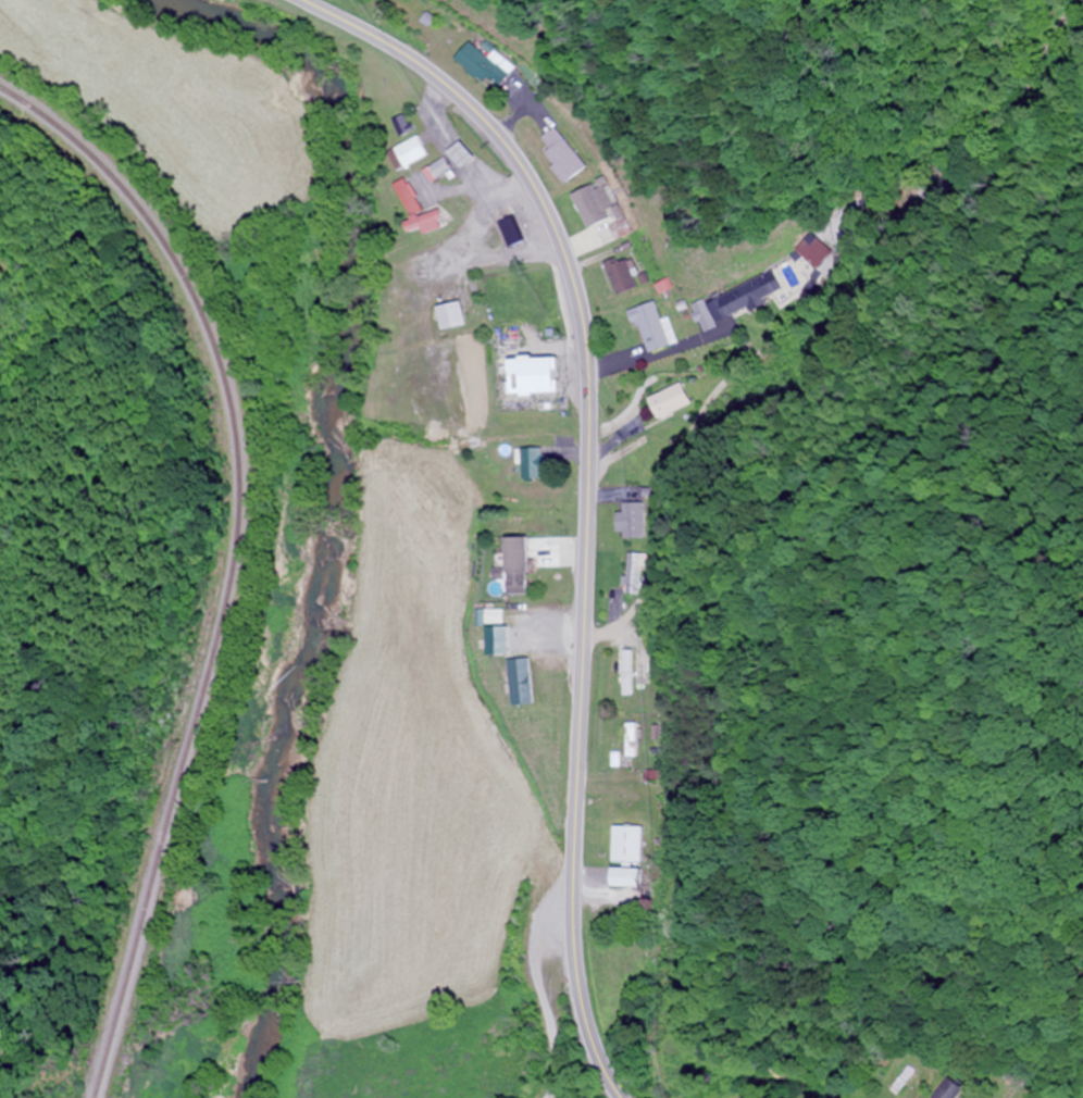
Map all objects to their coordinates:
building: (488, 65)
building: (416, 152)
building: (563, 155)
building: (423, 211)
building: (588, 211)
building: (513, 232)
building: (817, 251)
building: (623, 276)
building: (739, 301)
building: (457, 316)
building: (655, 327)
building: (539, 377)
building: (670, 400)
building: (535, 463)
road: (585, 492)
river: (339, 499)
building: (631, 521)
railway: (231, 560)
building: (521, 564)
building: (633, 572)
building: (523, 681)
building: (630, 739)
building: (625, 844)
building: (625, 876)
road: (548, 1060)
building: (955, 1089)

